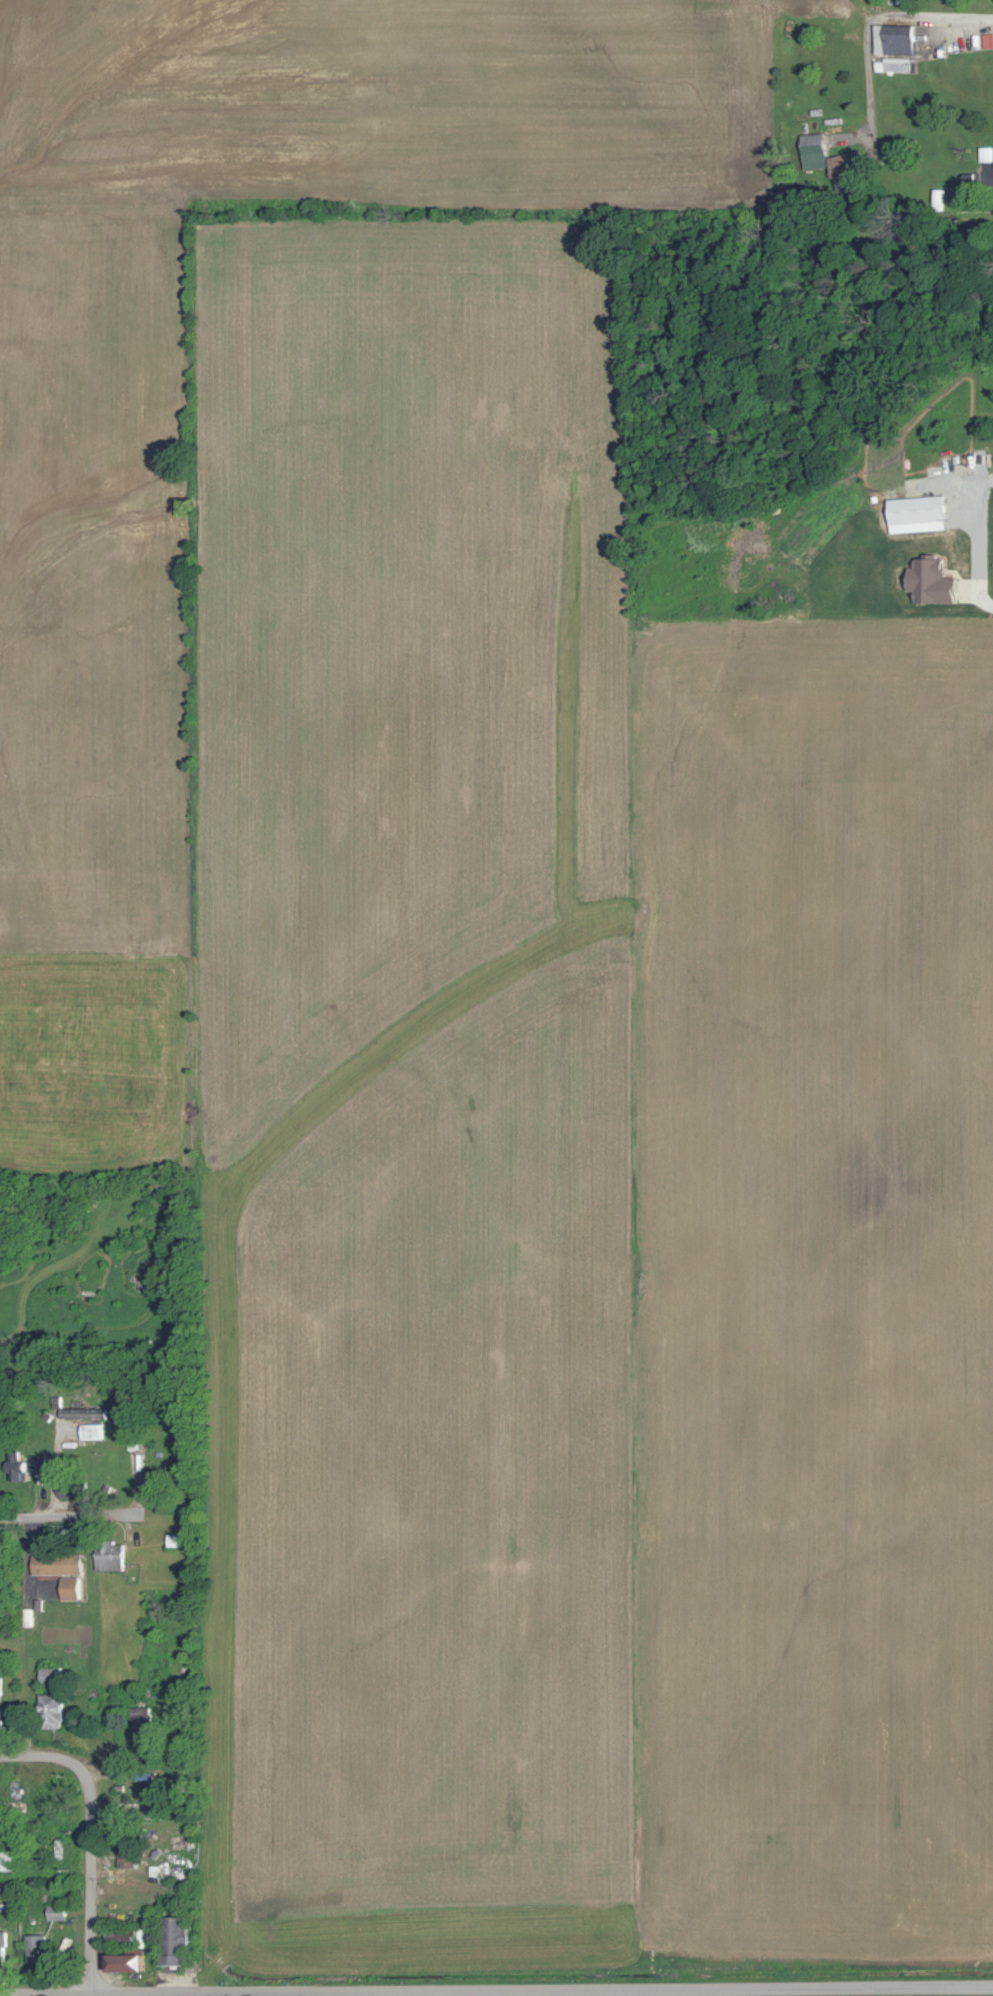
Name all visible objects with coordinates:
building: (987, 40)
building: (894, 46)
building: (812, 149)
building: (984, 152)
building: (936, 198)
building: (914, 509)
building: (928, 580)
crop: (507, 1007)
building: (89, 1412)
building: (99, 1431)
building: (33, 1468)
building: (78, 1490)
road: (72, 1517)
building: (7, 1553)
building: (108, 1555)
building: (55, 1563)
building: (70, 1587)
building: (0, 1702)
building: (49, 1709)
road: (40, 1756)
building: (124, 1854)
building: (6, 1859)
road: (91, 1879)
building: (55, 1910)
building: (172, 1937)
building: (1, 1943)
building: (36, 1947)
building: (121, 1961)
road: (542, 1989)
road: (47, 1994)
crop: (798, 1995)

